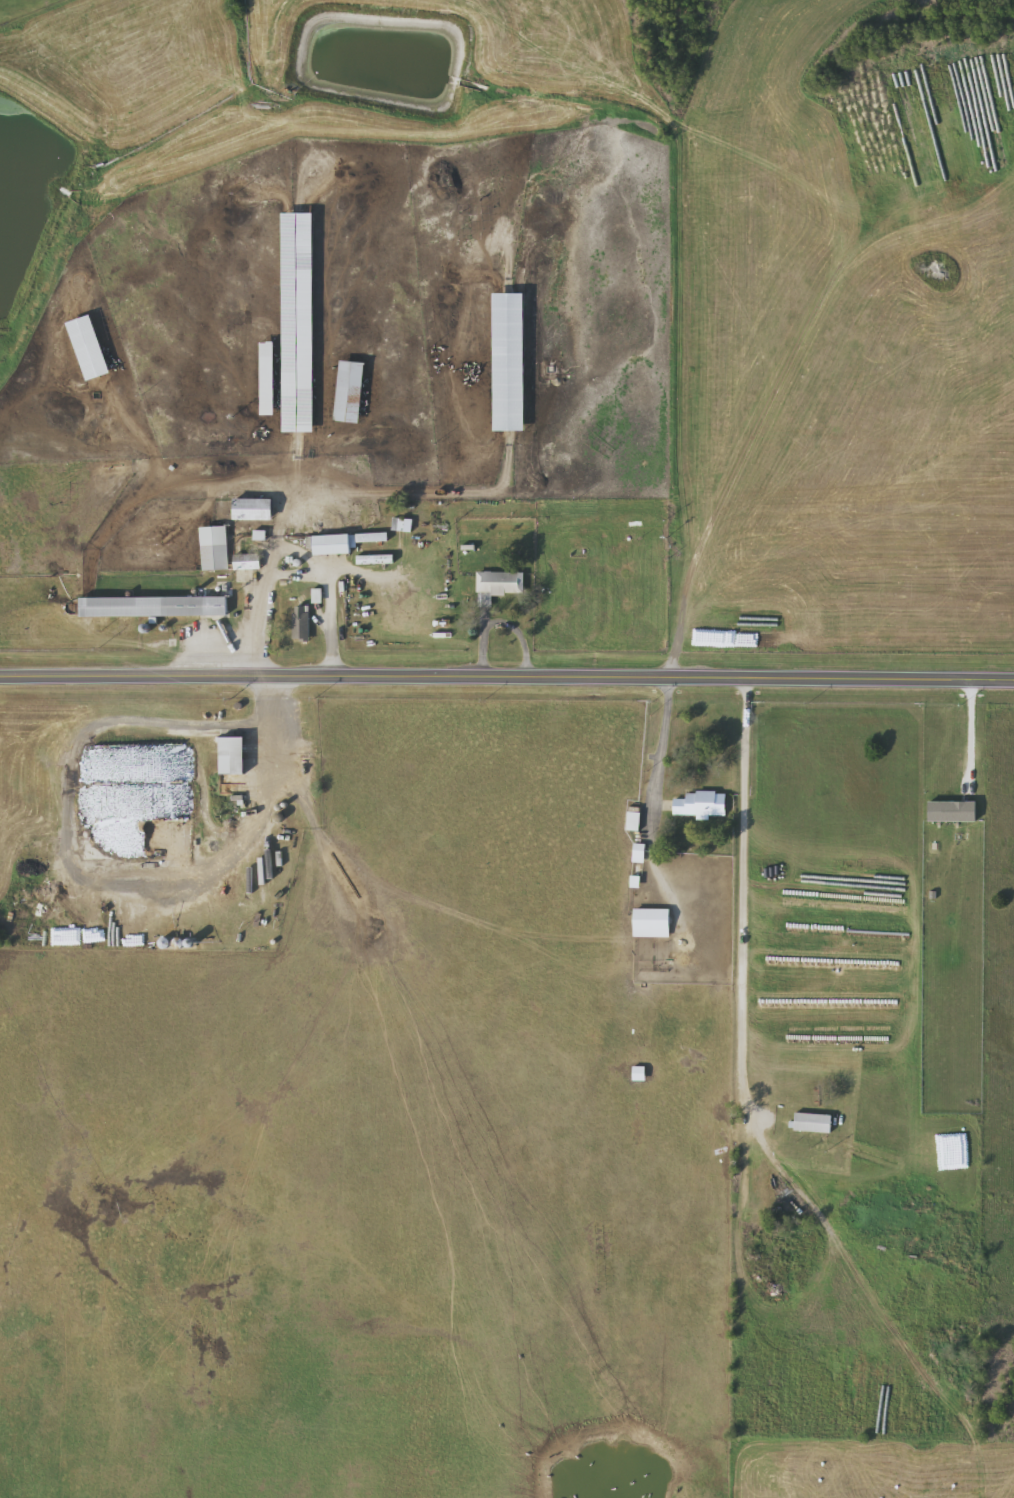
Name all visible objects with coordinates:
building: (300, 322)
building: (90, 347)
building: (511, 361)
building: (268, 379)
building: (351, 391)
road: (757, 418)
building: (253, 507)
building: (372, 535)
building: (332, 542)
building: (214, 546)
building: (248, 559)
road: (293, 572)
building: (498, 583)
building: (156, 604)
building: (301, 621)
road: (499, 621)
road: (506, 680)
road: (278, 731)
road: (968, 735)
building: (234, 753)
road: (653, 790)
building: (702, 801)
building: (634, 817)
building: (99, 833)
building: (652, 921)
road: (737, 983)
building: (638, 1071)
building: (813, 1120)

